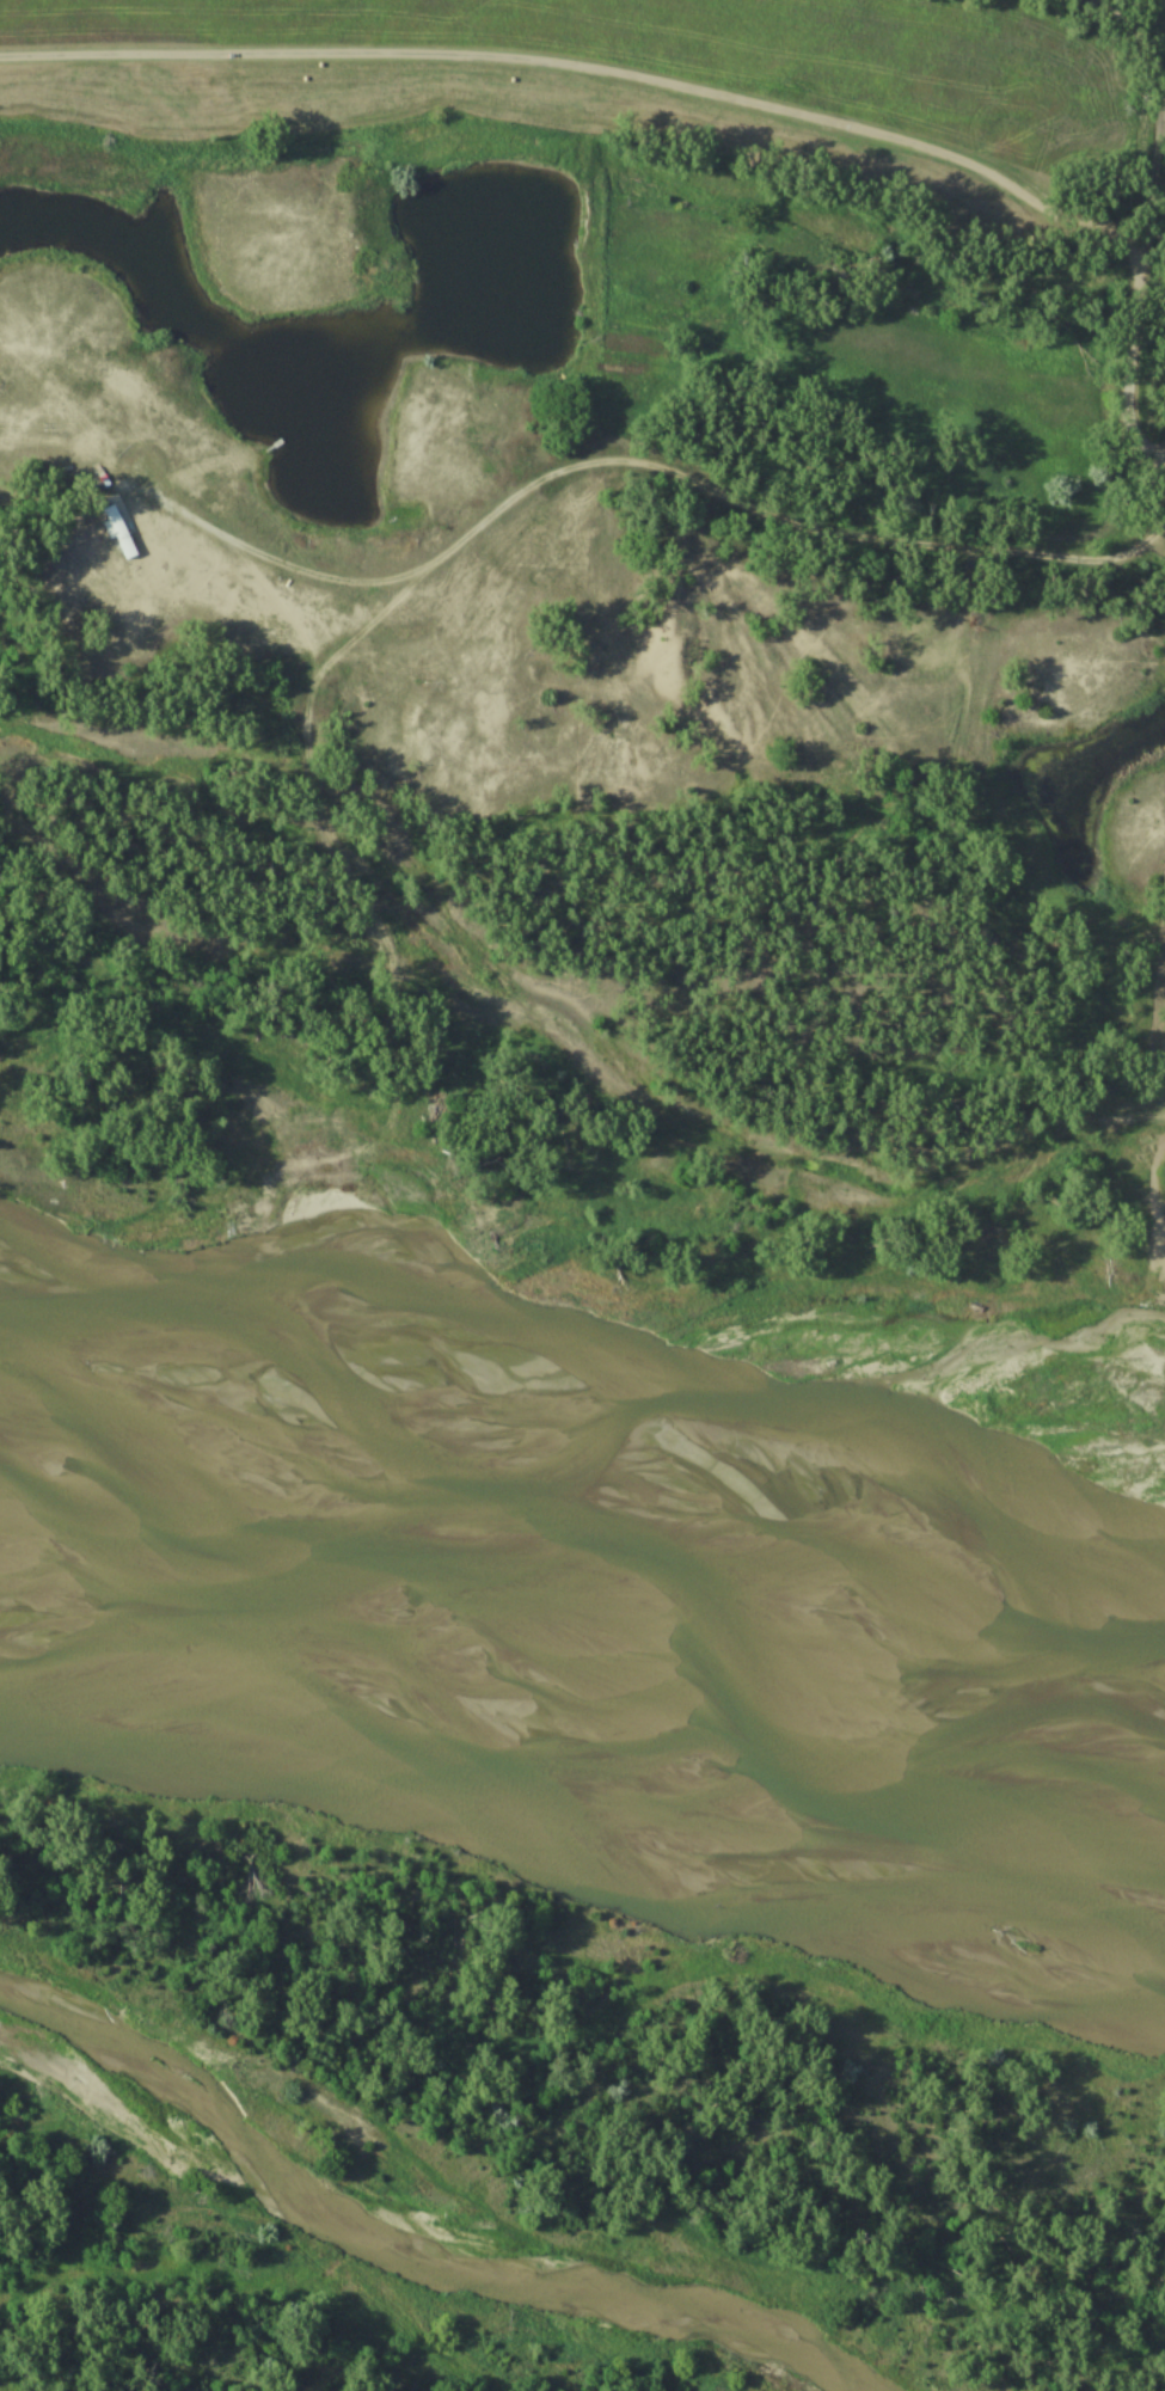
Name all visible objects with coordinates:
road: (590, 72)
road: (1141, 226)
road: (625, 466)
building: (123, 533)
river: (584, 1555)

